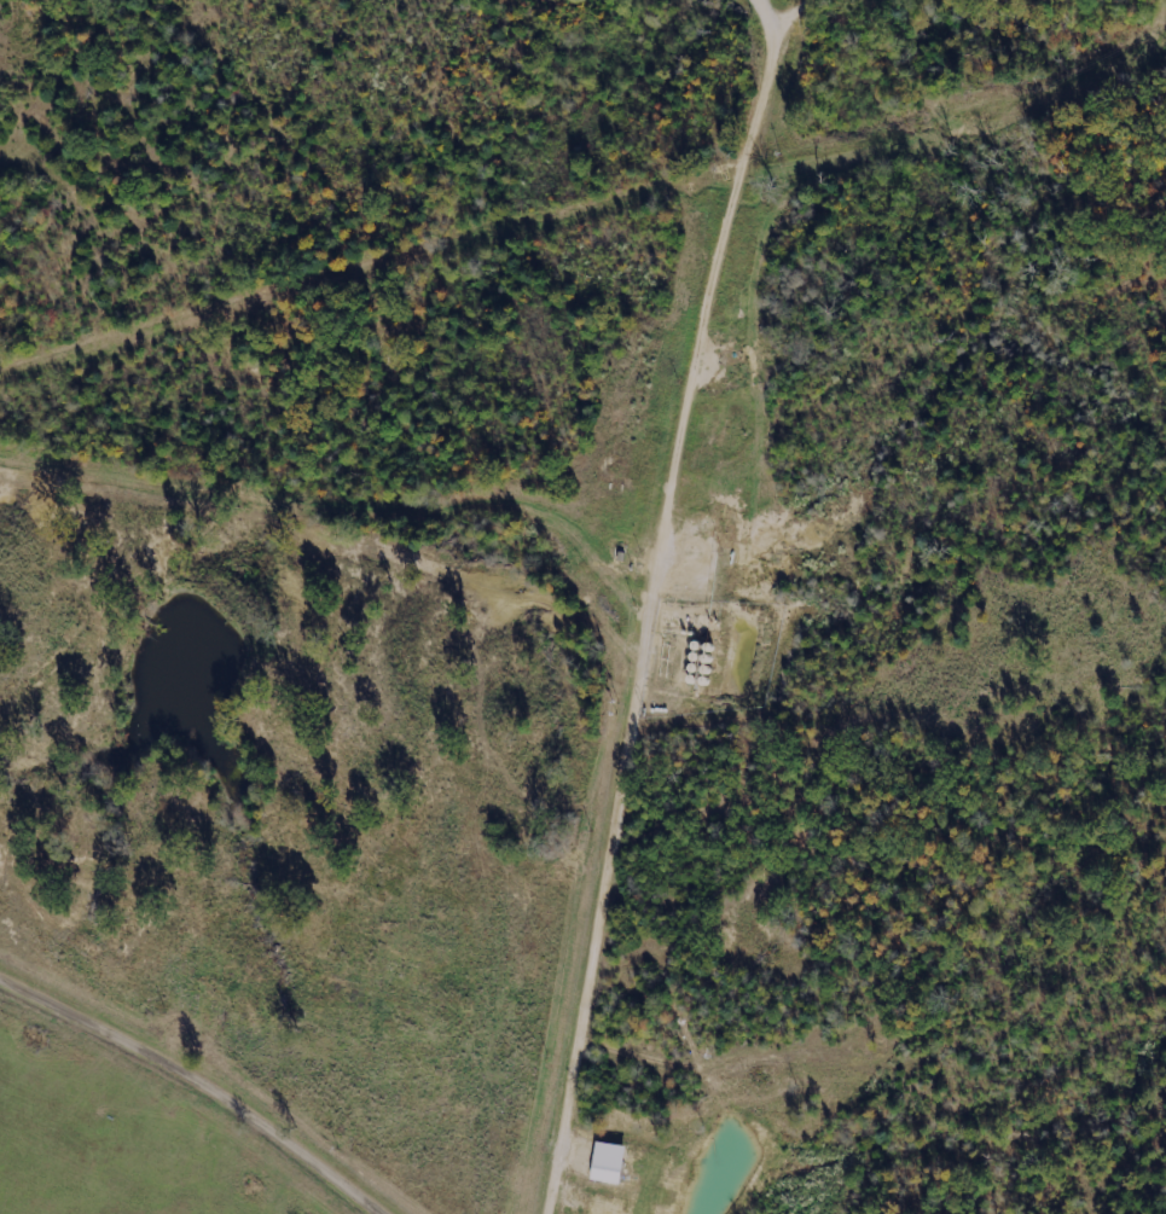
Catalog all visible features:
road: (199, 1080)
building: (614, 1163)

